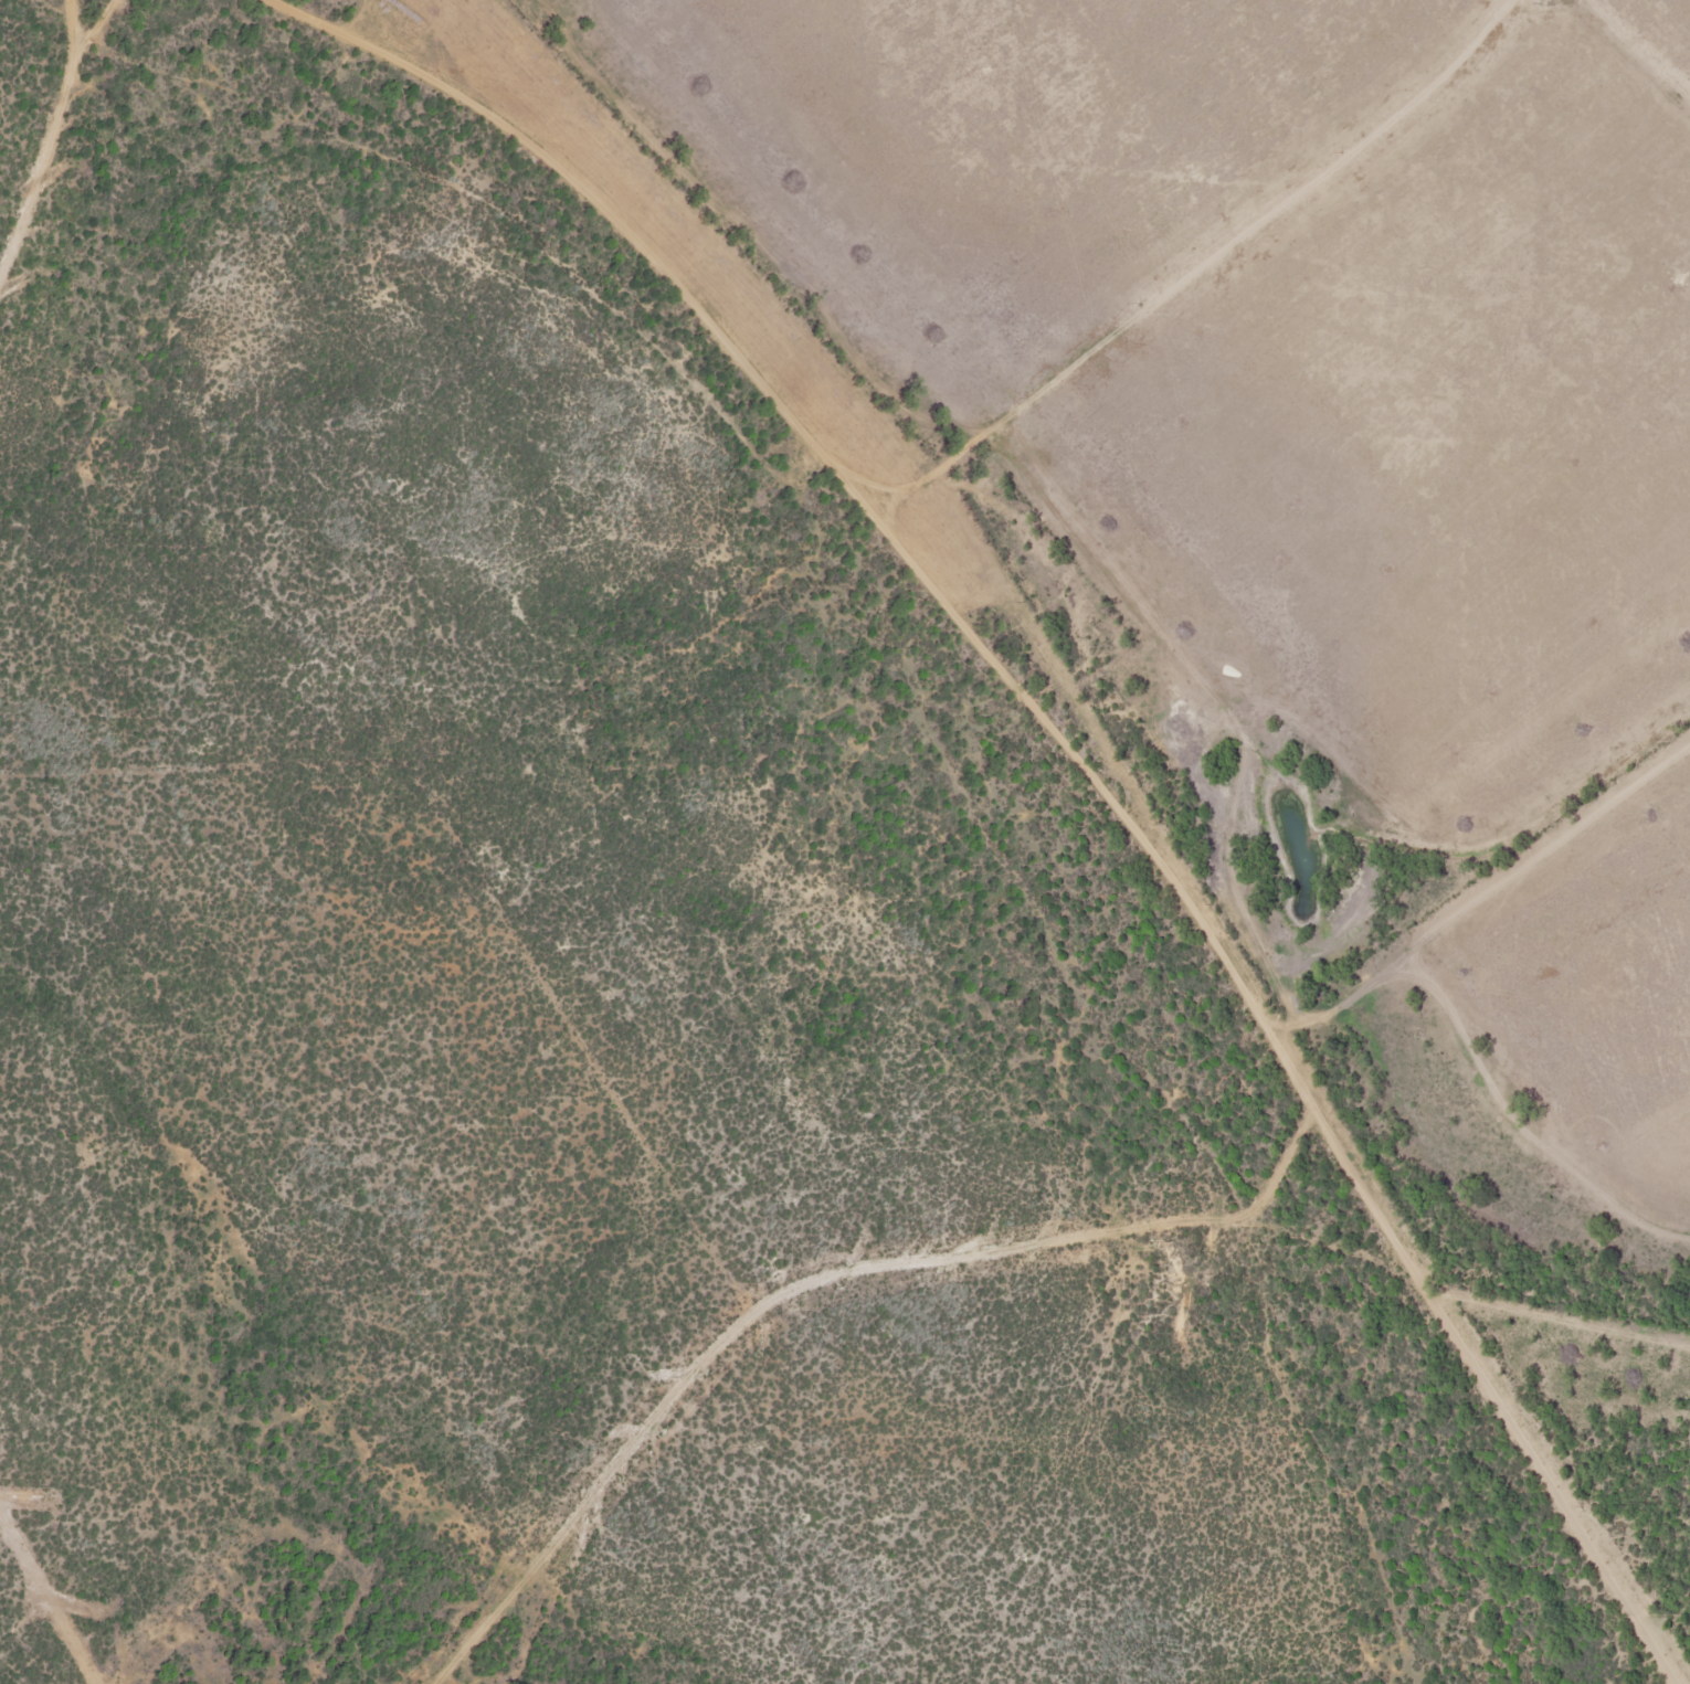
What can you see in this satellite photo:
road: (40, 135)
road: (676, 288)
road: (1349, 1166)

